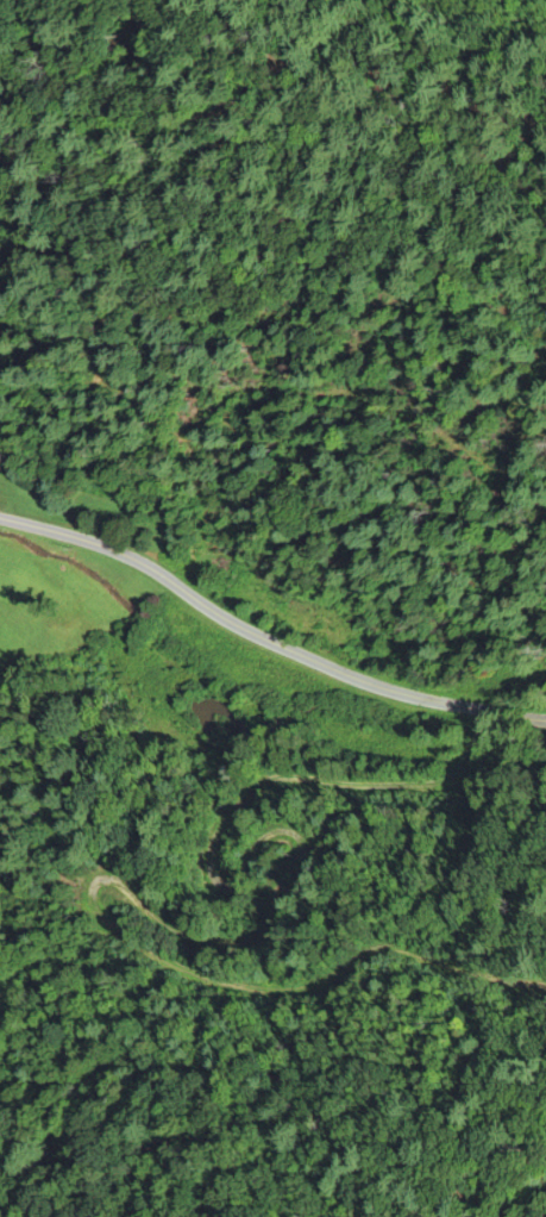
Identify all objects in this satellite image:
road: (264, 637)

